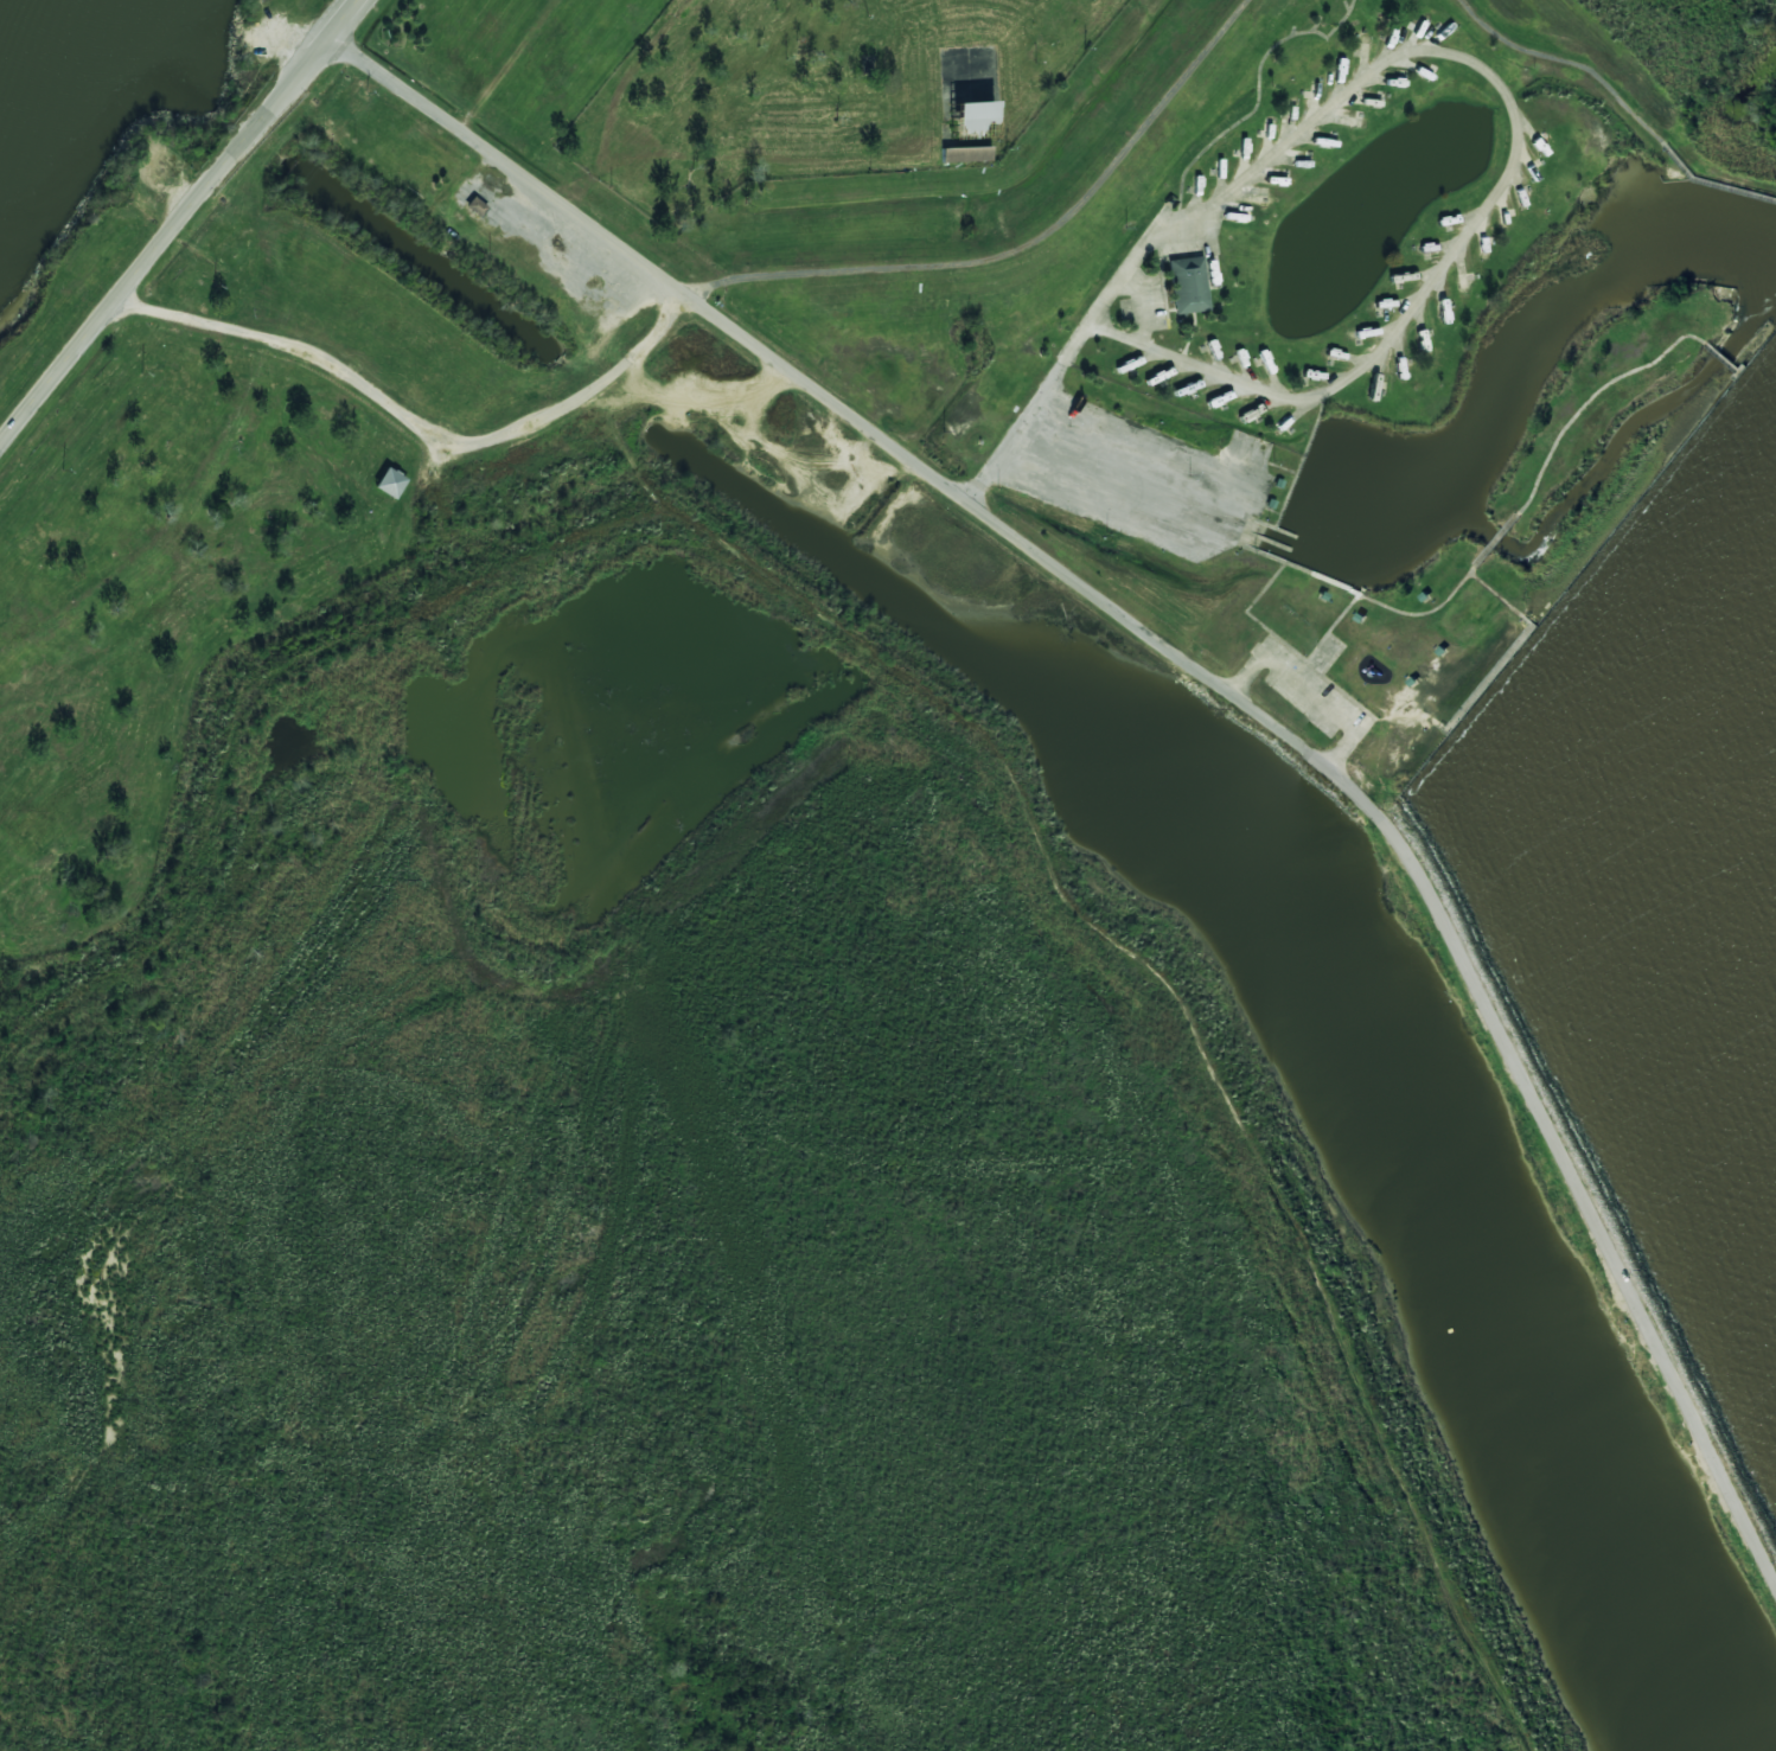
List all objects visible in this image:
road: (1452, 56)
building: (970, 117)
building: (965, 154)
road: (178, 222)
road: (1015, 242)
building: (1187, 285)
road: (414, 424)
building: (389, 483)
road: (1209, 677)
road: (1408, 688)

